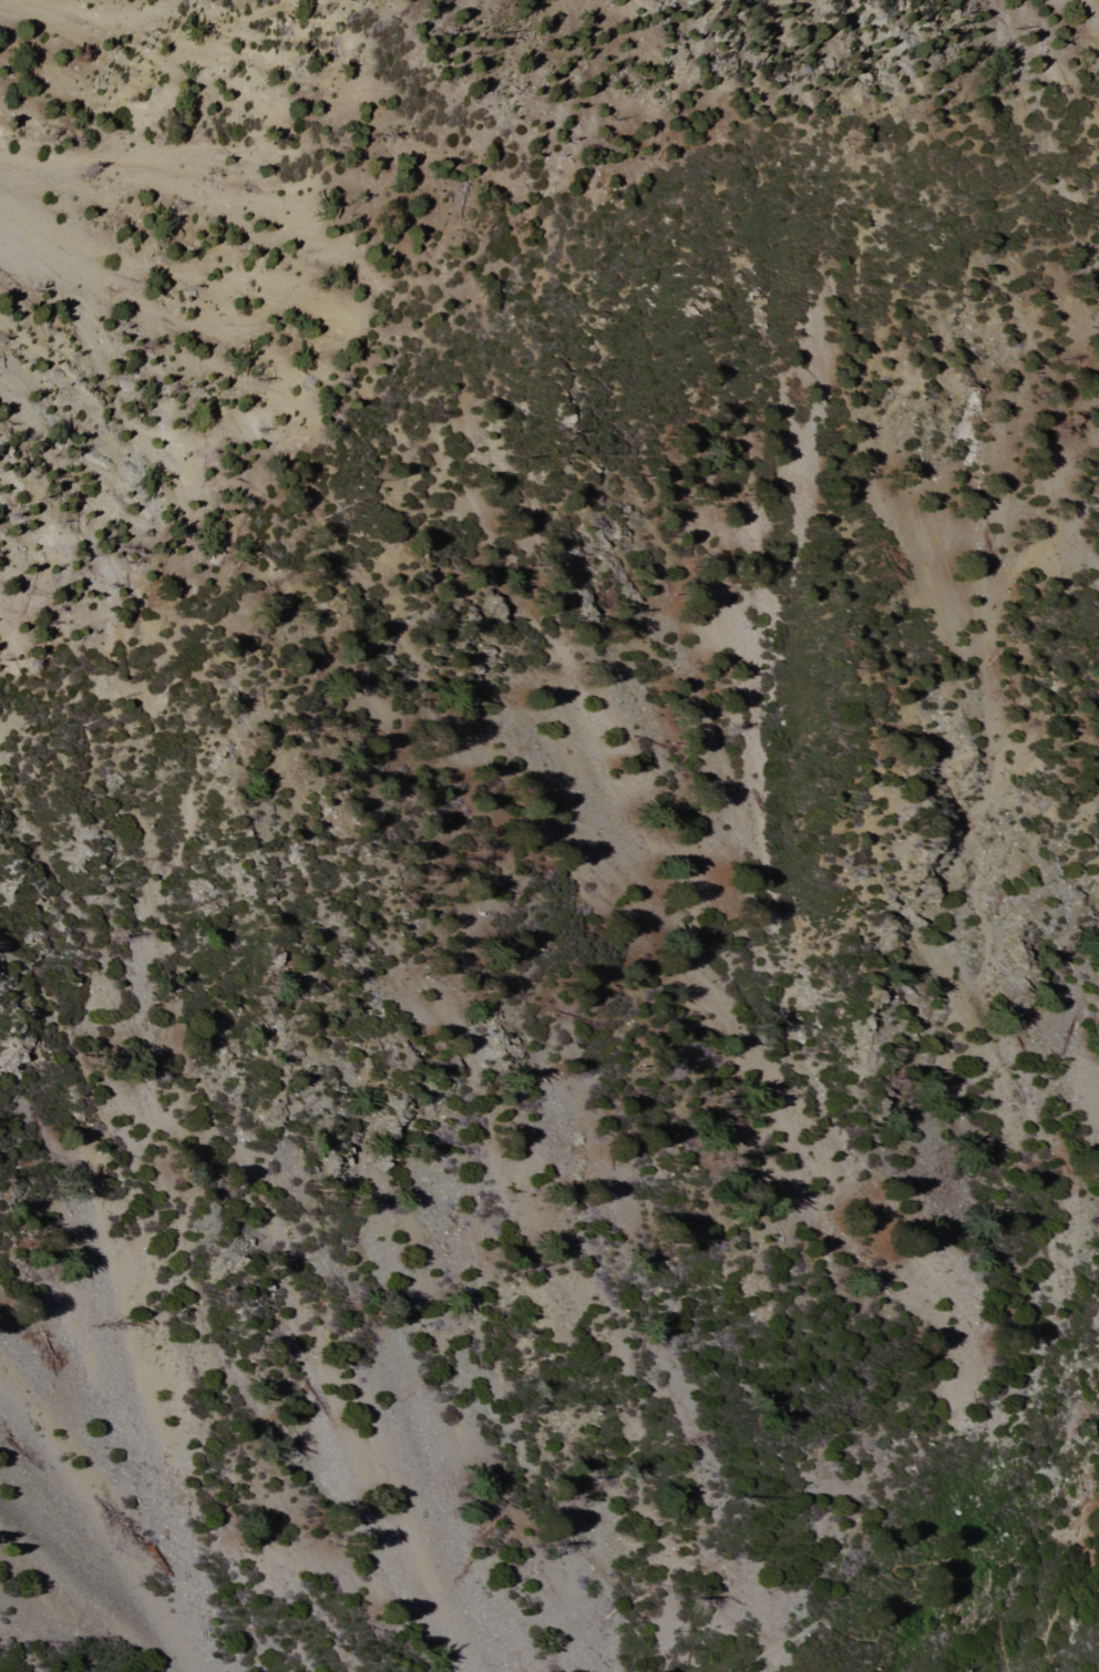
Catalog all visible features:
road: (1068, 1567)
road: (922, 1589)

